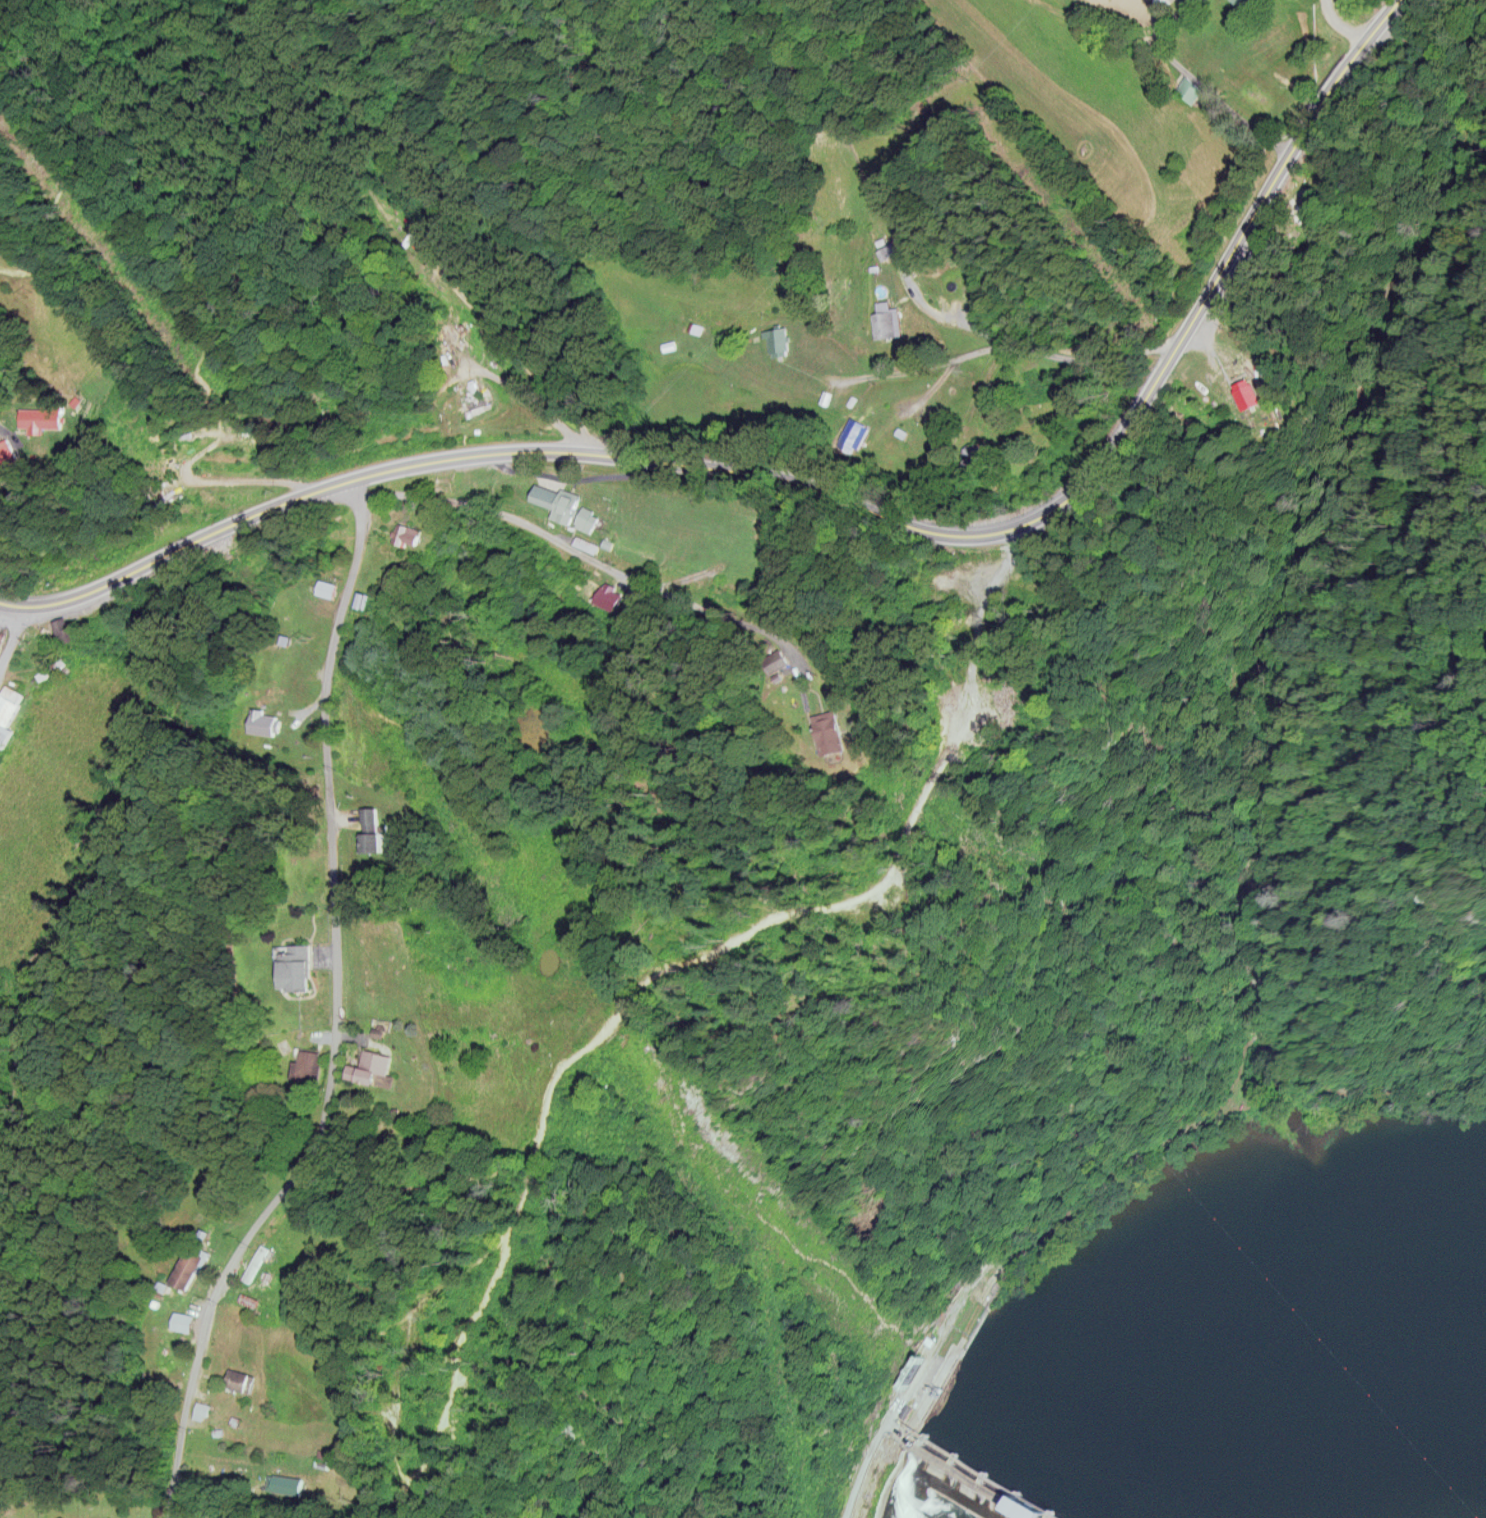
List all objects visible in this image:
building: (1242, 2)
road: (1340, 23)
building: (1186, 88)
building: (888, 320)
building: (778, 340)
road: (1051, 354)
road: (888, 370)
building: (476, 402)
building: (43, 417)
building: (7, 451)
road: (1482, 471)
building: (559, 501)
road: (820, 504)
building: (589, 519)
building: (409, 535)
building: (337, 537)
building: (326, 589)
building: (614, 596)
road: (1305, 614)
road: (10, 631)
building: (71, 632)
building: (2, 641)
building: (51, 668)
building: (280, 668)
building: (10, 706)
building: (268, 723)
building: (851, 729)
building: (7, 734)
building: (375, 830)
building: (296, 968)
road: (334, 1019)
park: (1317, 1042)
building: (308, 1066)
building: (376, 1069)
road: (1395, 1091)
building: (258, 1264)
building: (190, 1268)
building: (185, 1322)
building: (244, 1381)
river: (1317, 1385)
road: (852, 1431)
dam: (986, 1474)
dam: (975, 1481)

